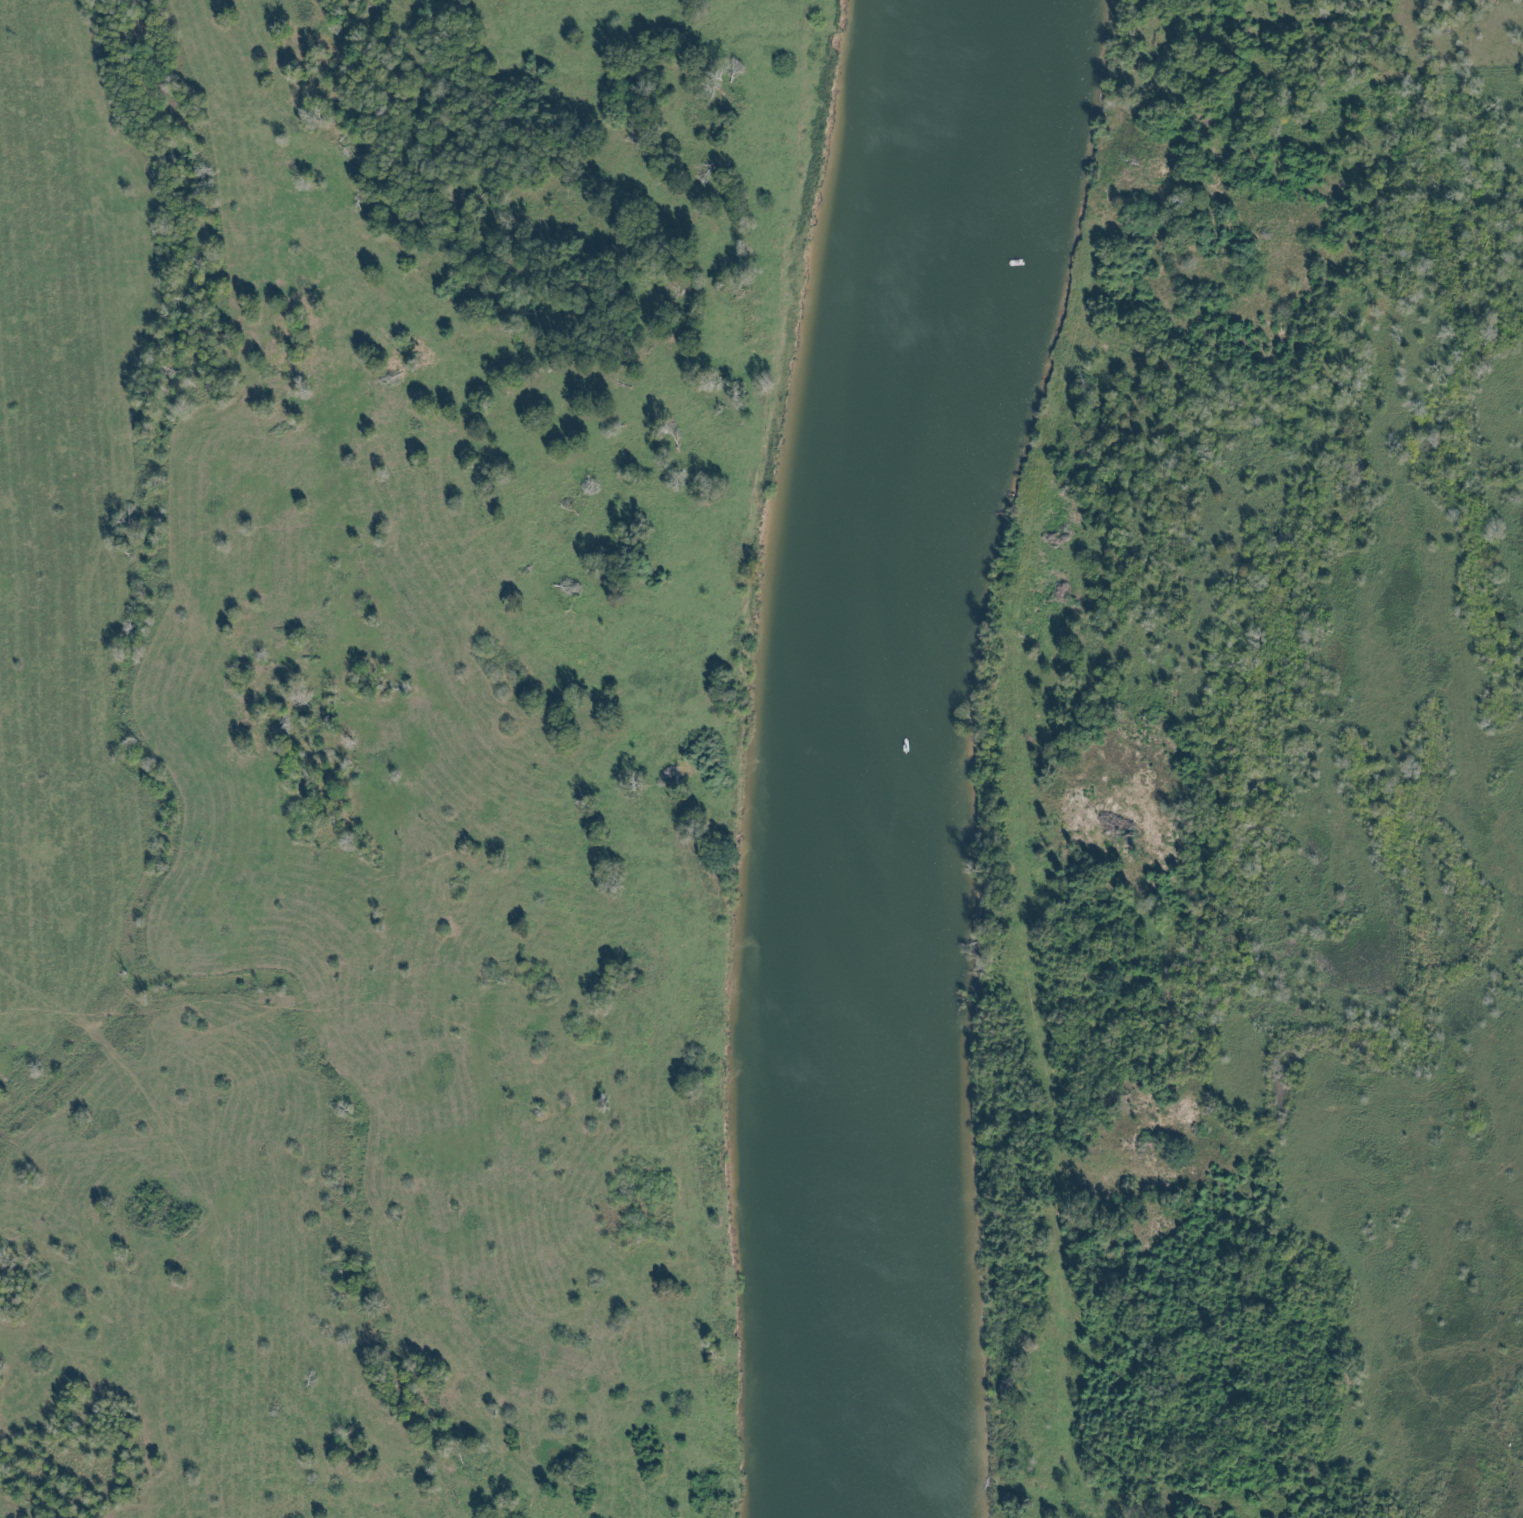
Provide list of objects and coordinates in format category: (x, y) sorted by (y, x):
river: (855, 754)

